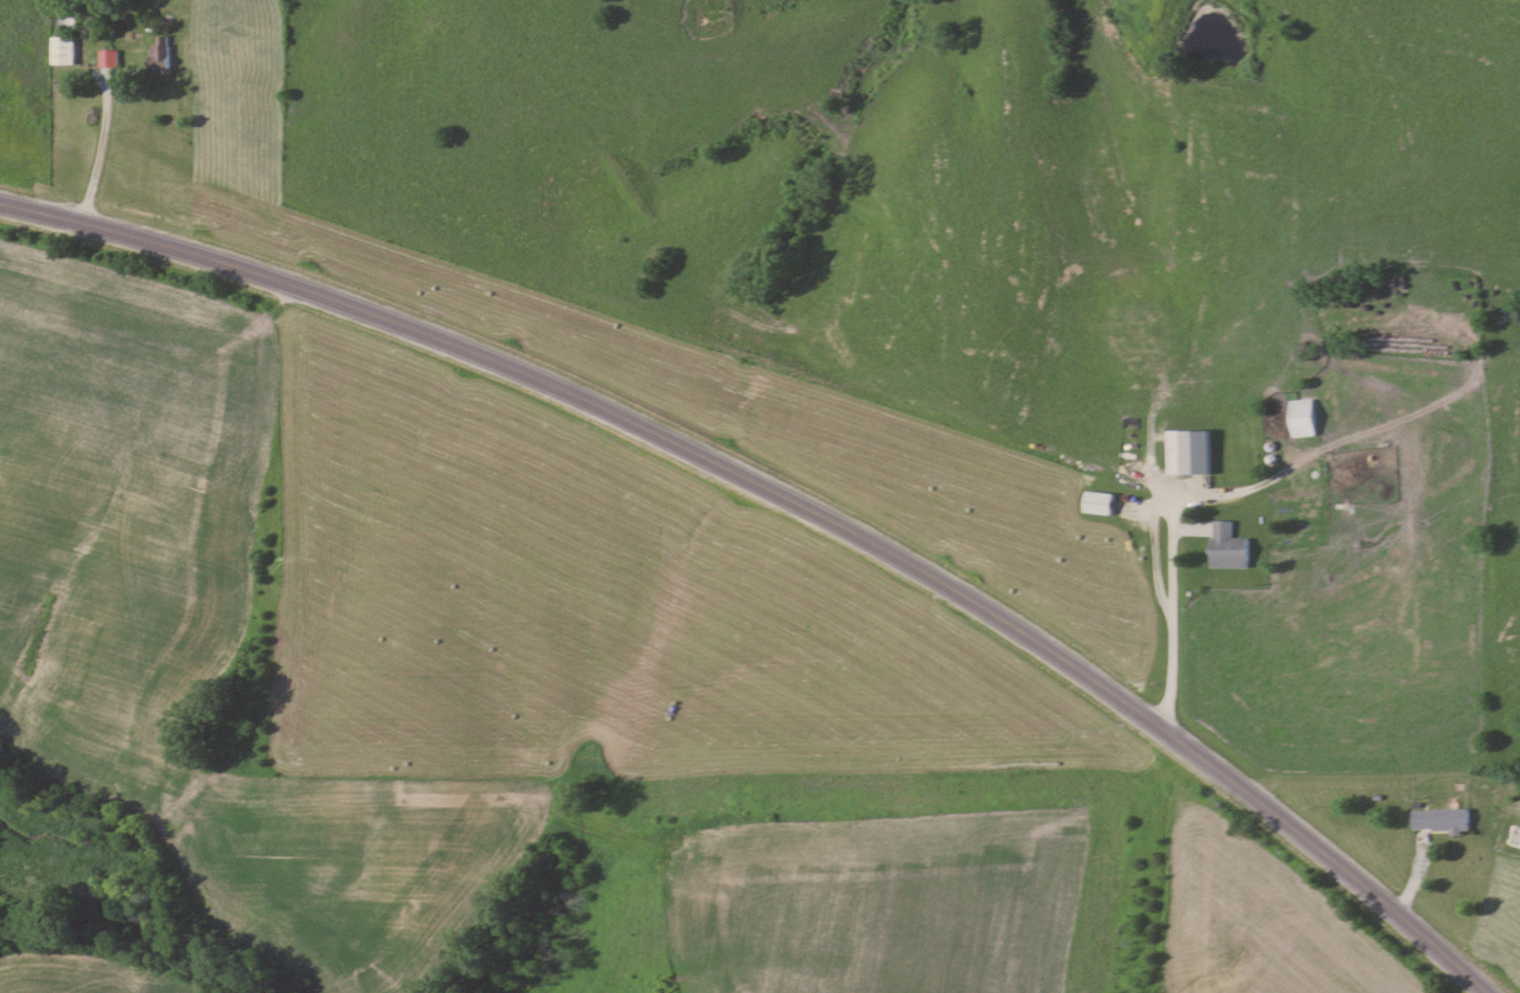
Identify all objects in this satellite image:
building: (65, 20)
building: (62, 50)
building: (157, 57)
road: (103, 130)
building: (1282, 205)
building: (1299, 418)
building: (1200, 474)
building: (1167, 479)
building: (1355, 499)
road: (795, 500)
building: (1096, 503)
building: (1225, 546)
road: (1173, 610)
building: (1438, 819)

